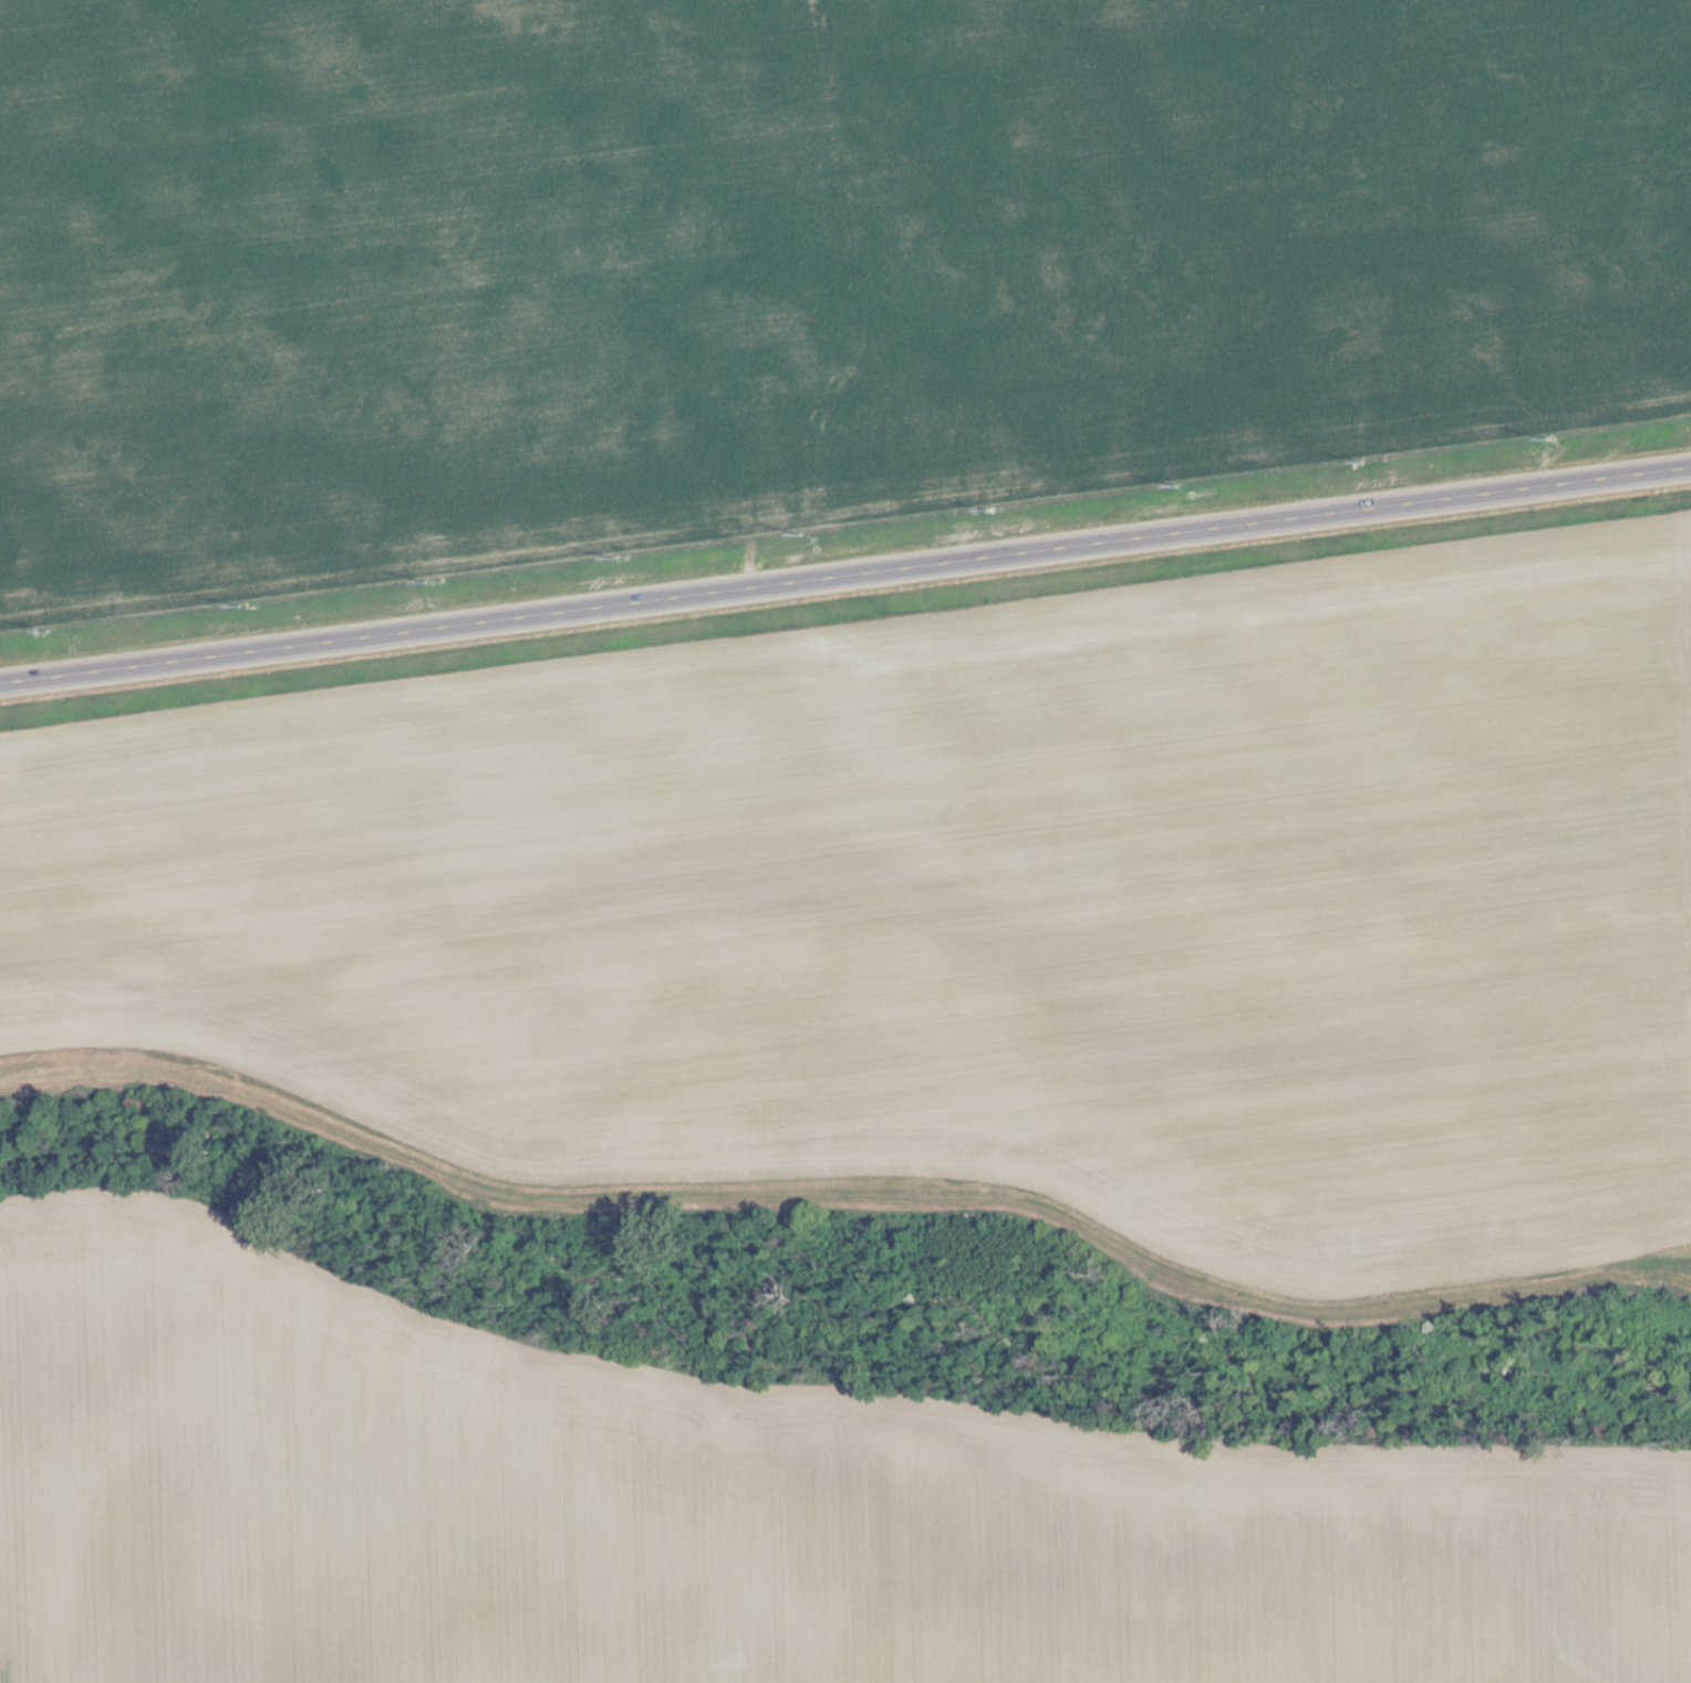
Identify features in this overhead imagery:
road: (845, 574)

